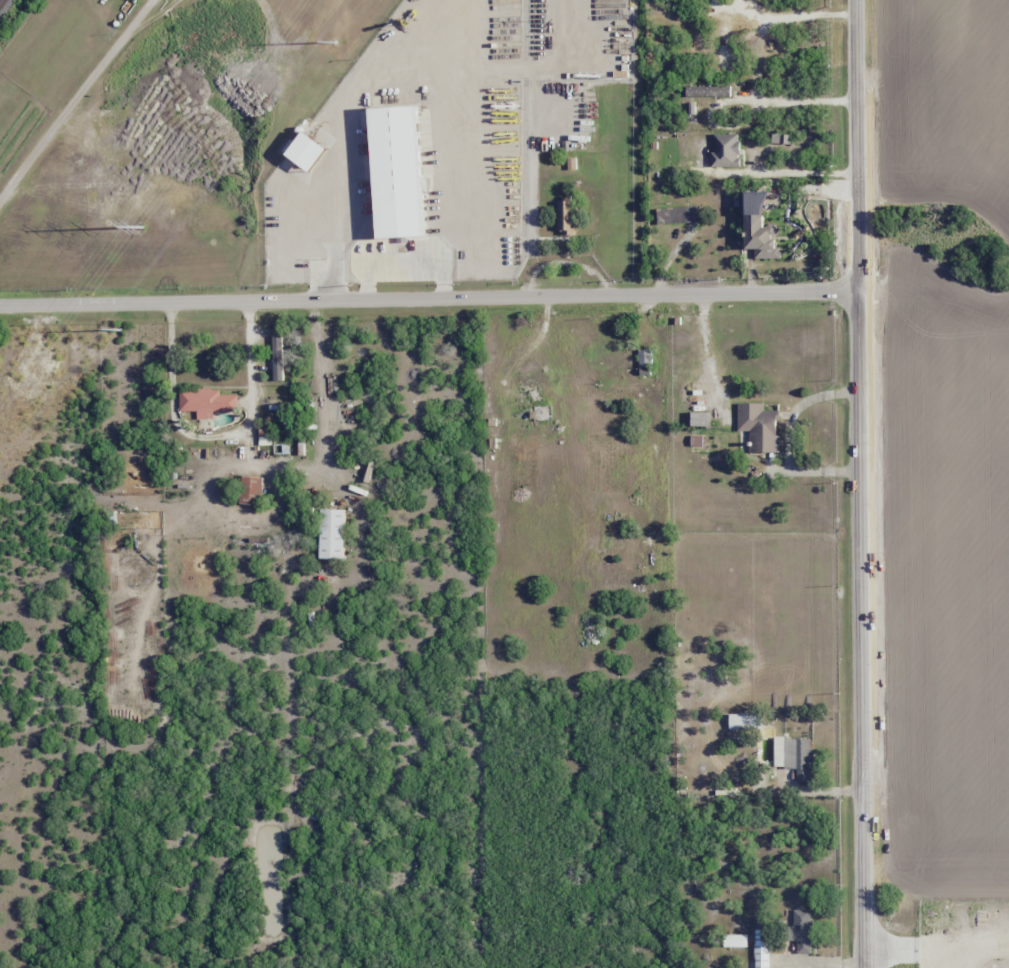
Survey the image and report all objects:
railway: (1, 1)
power tower: (333, 41)
building: (500, 68)
crop: (944, 101)
building: (704, 111)
building: (724, 150)
building: (313, 153)
building: (688, 156)
building: (403, 175)
building: (301, 183)
building: (675, 215)
building: (564, 217)
power tower: (141, 227)
road: (429, 298)
power tower: (119, 329)
building: (276, 357)
building: (644, 358)
building: (528, 392)
building: (205, 402)
building: (696, 418)
building: (757, 426)
building: (495, 453)
road: (860, 484)
building: (250, 490)
building: (111, 518)
building: (330, 533)
crop: (945, 615)
building: (744, 722)
building: (792, 756)
building: (799, 931)
building: (738, 943)
building: (765, 950)

